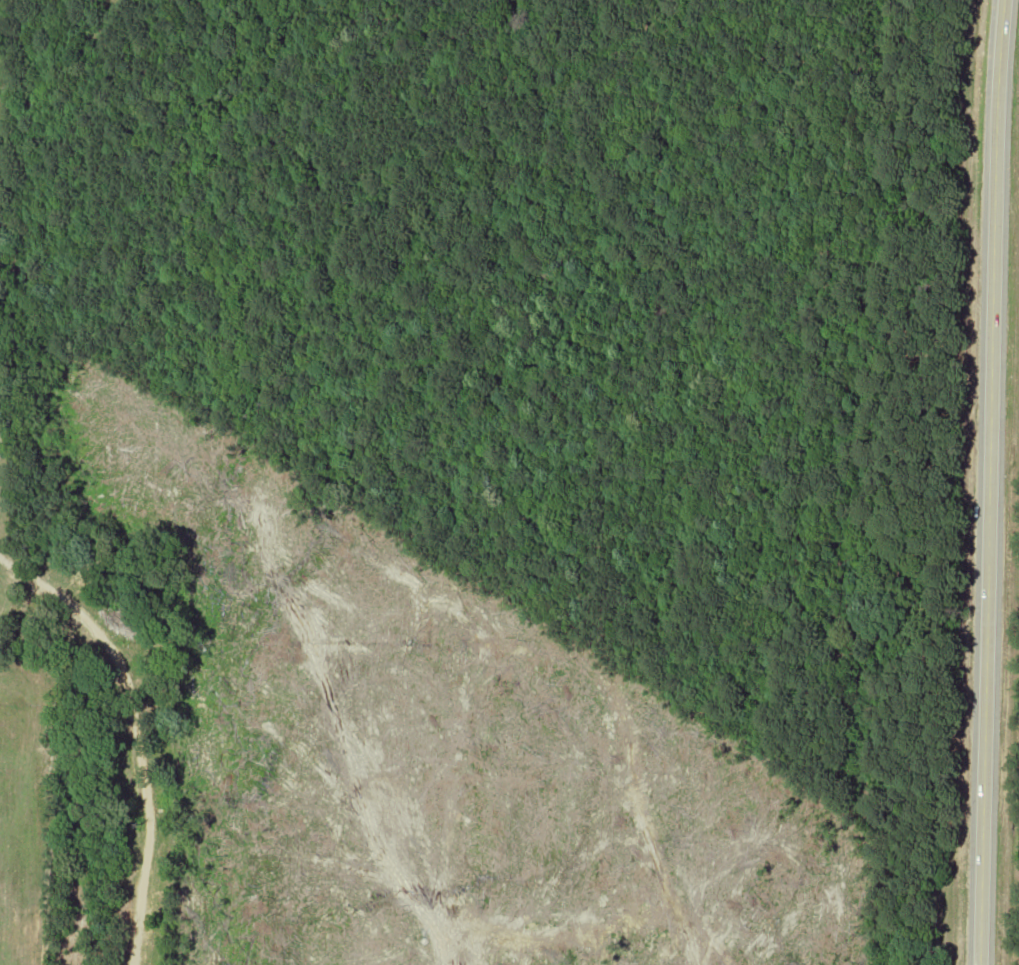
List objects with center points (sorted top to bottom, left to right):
road: (987, 482)

